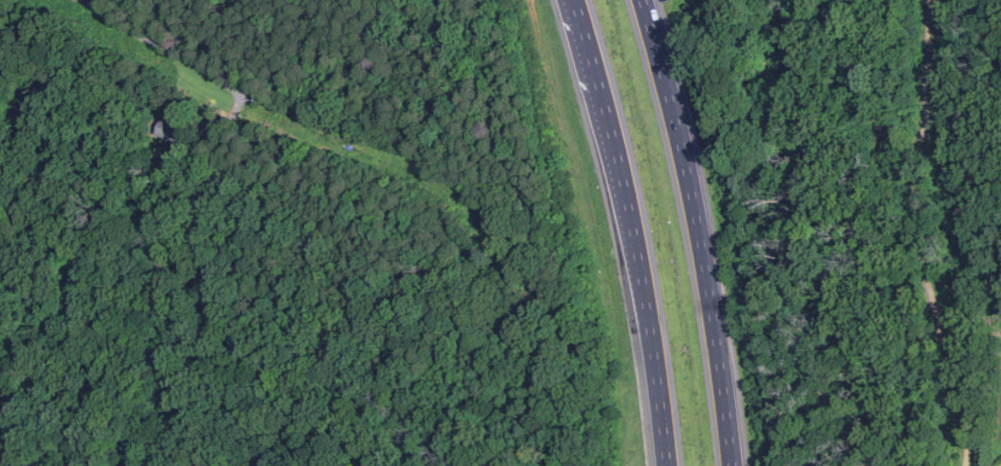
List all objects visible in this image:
road: (272, 107)
building: (174, 131)
road: (636, 230)
road: (698, 231)
road: (925, 235)
road: (998, 464)

